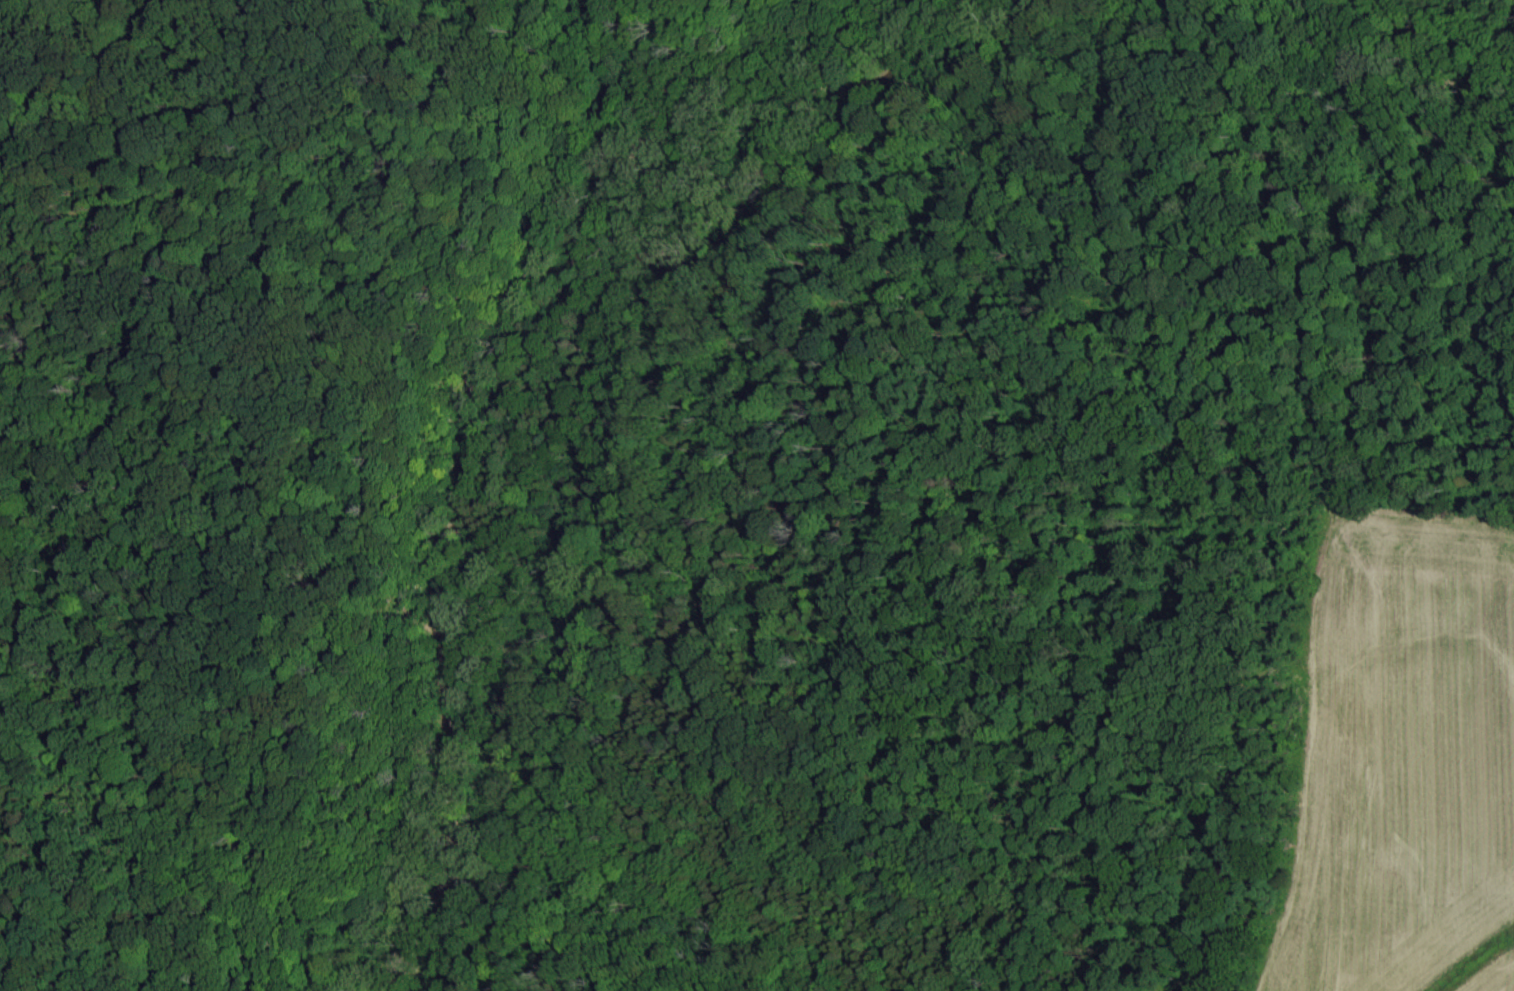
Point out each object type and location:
crop: (1389, 761)

